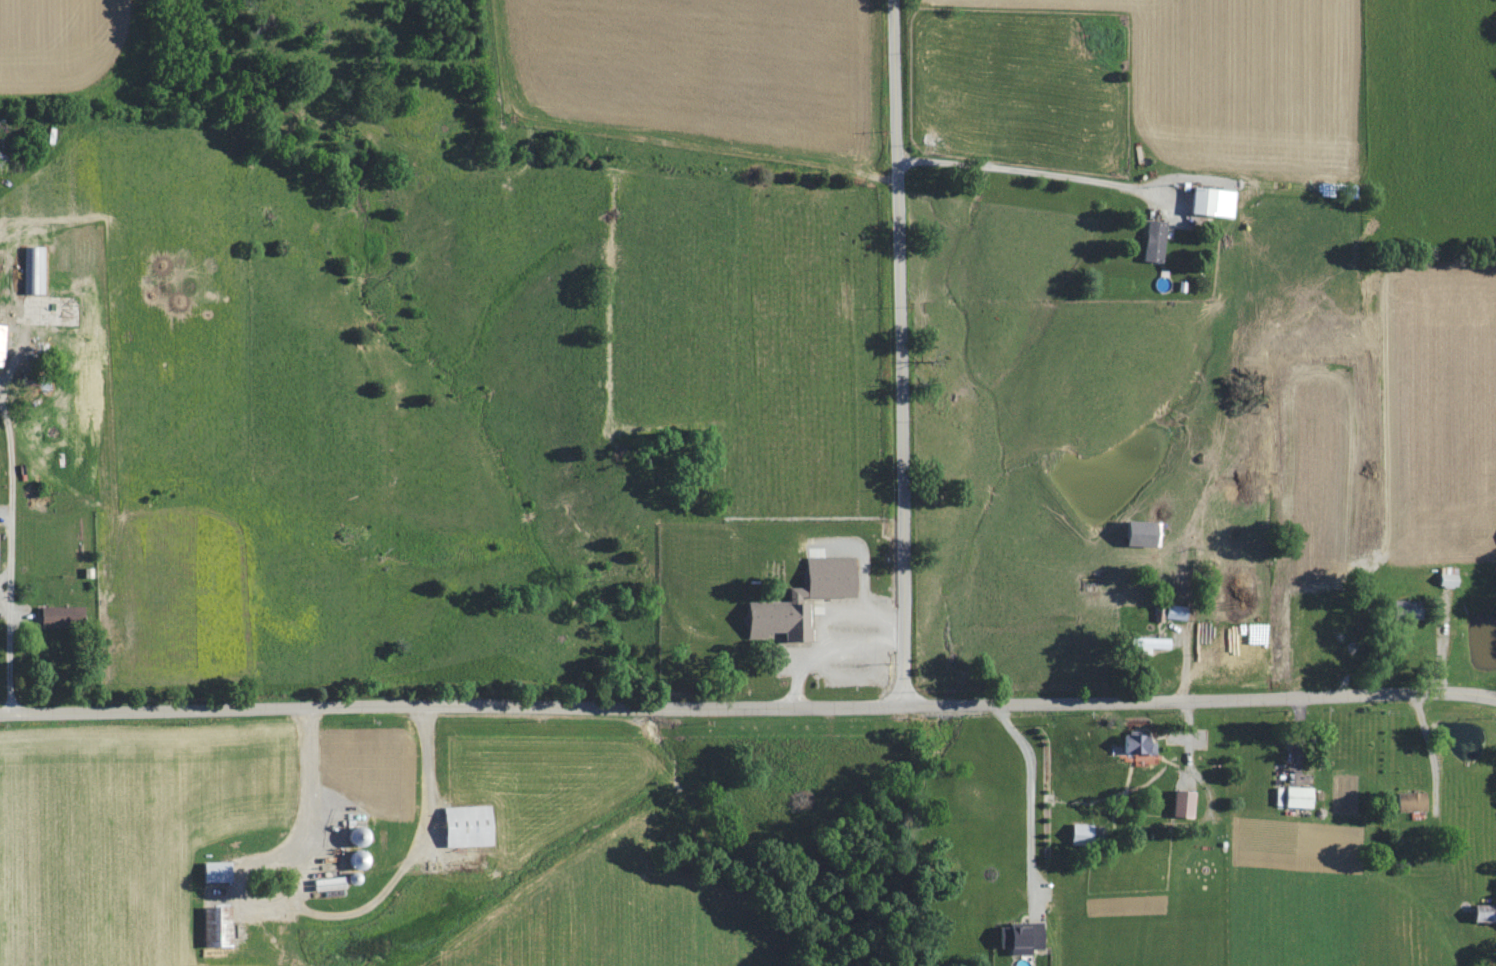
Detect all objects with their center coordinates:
building: (1204, 200)
building: (1148, 240)
building: (33, 268)
building: (58, 310)
building: (2, 342)
road: (896, 350)
building: (1134, 532)
building: (803, 598)
building: (1395, 608)
building: (1170, 610)
building: (62, 614)
building: (1143, 642)
road: (748, 701)
building: (1131, 742)
building: (1290, 796)
building: (1406, 801)
building: (1177, 803)
building: (470, 825)
building: (1075, 832)
building: (217, 870)
building: (1477, 912)
building: (215, 926)
building: (1022, 937)

